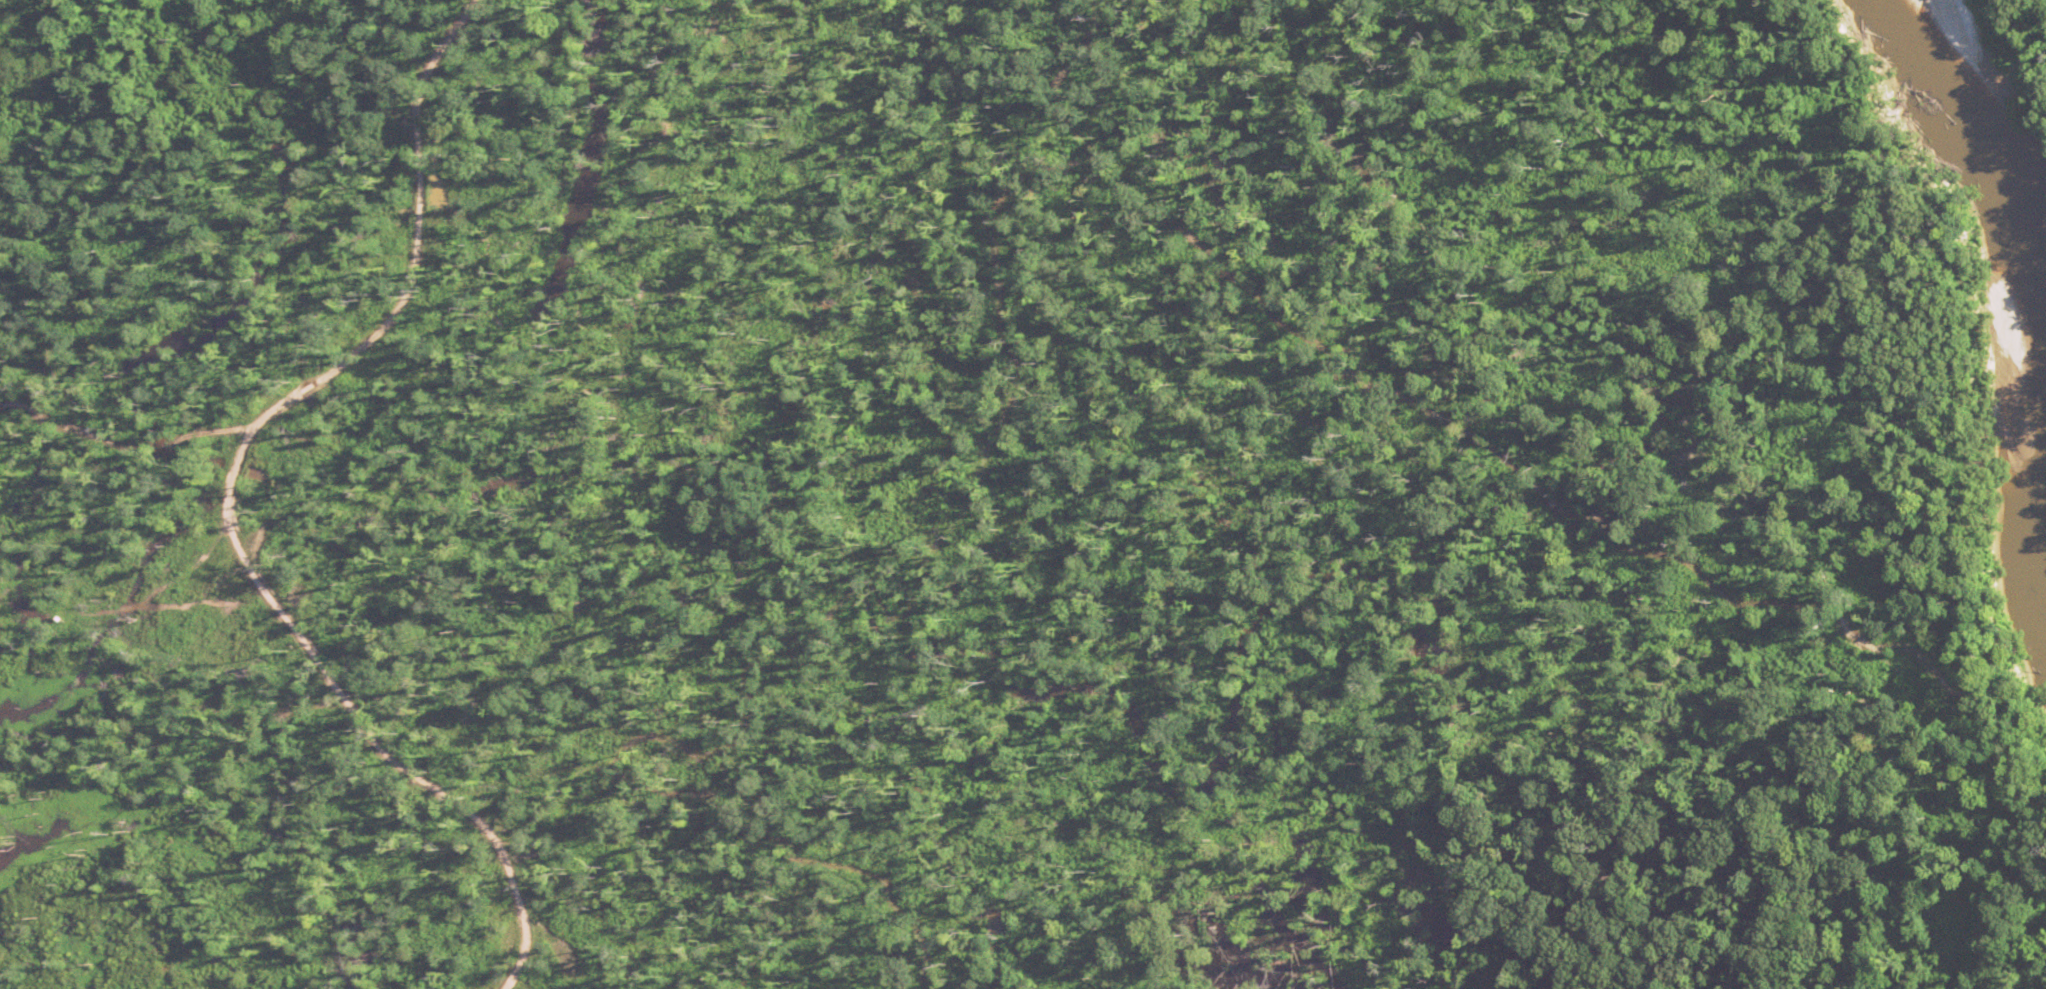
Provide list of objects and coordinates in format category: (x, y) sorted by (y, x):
river: (2034, 247)

